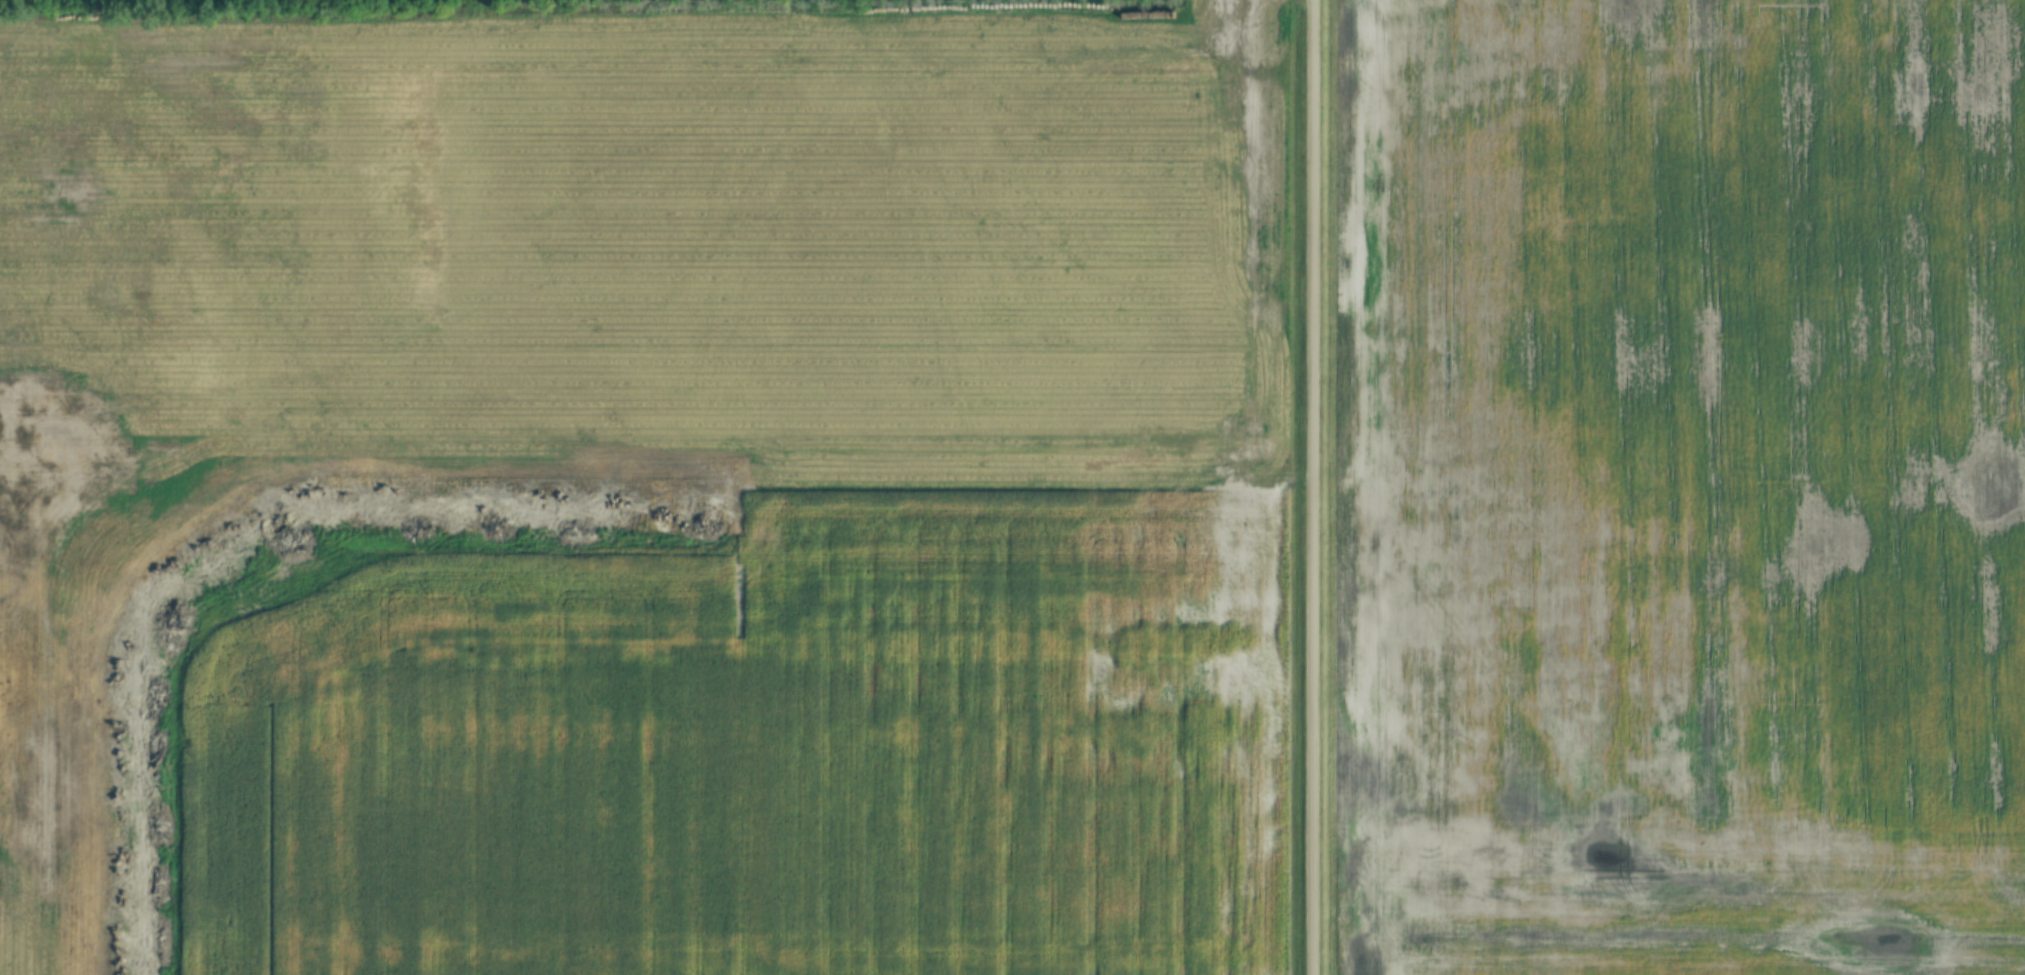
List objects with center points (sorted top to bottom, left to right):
road: (1318, 487)

